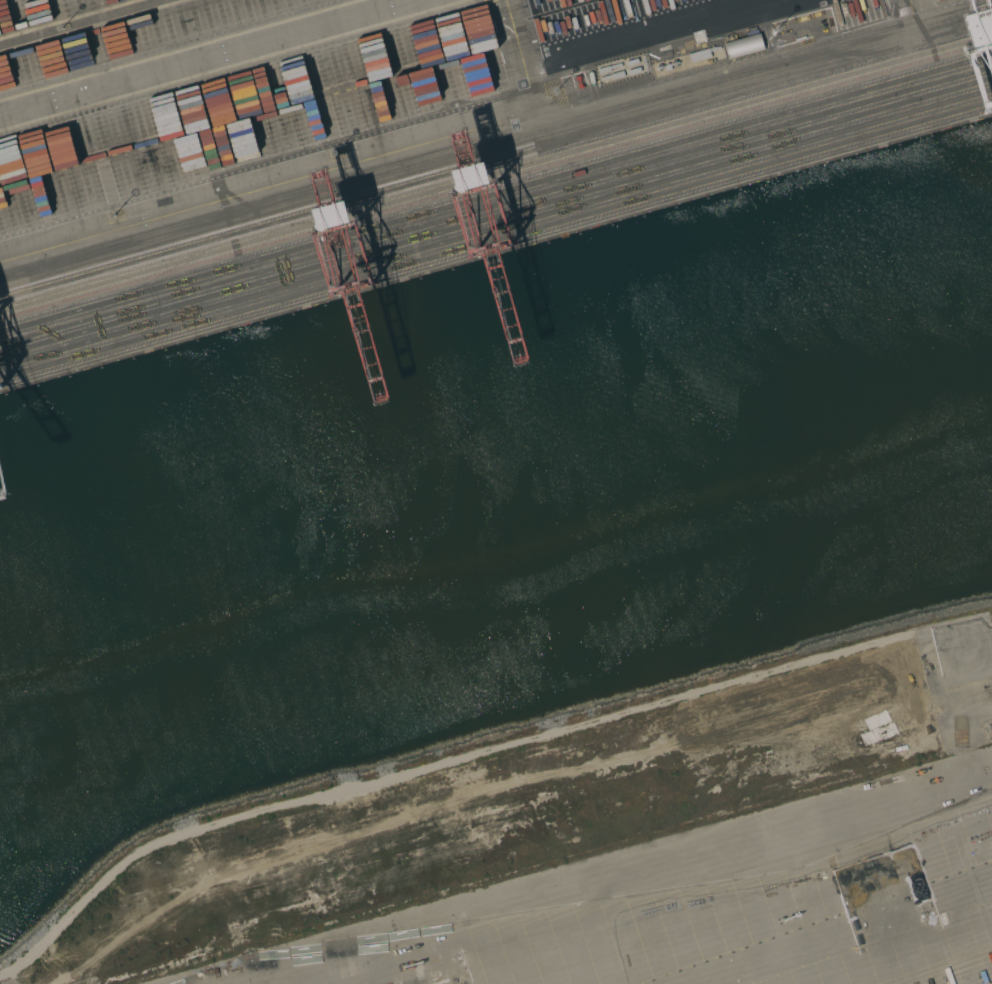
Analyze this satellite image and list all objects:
road: (908, 4)
building: (744, 45)
building: (699, 55)
pier: (500, 216)
railway: (495, 227)

